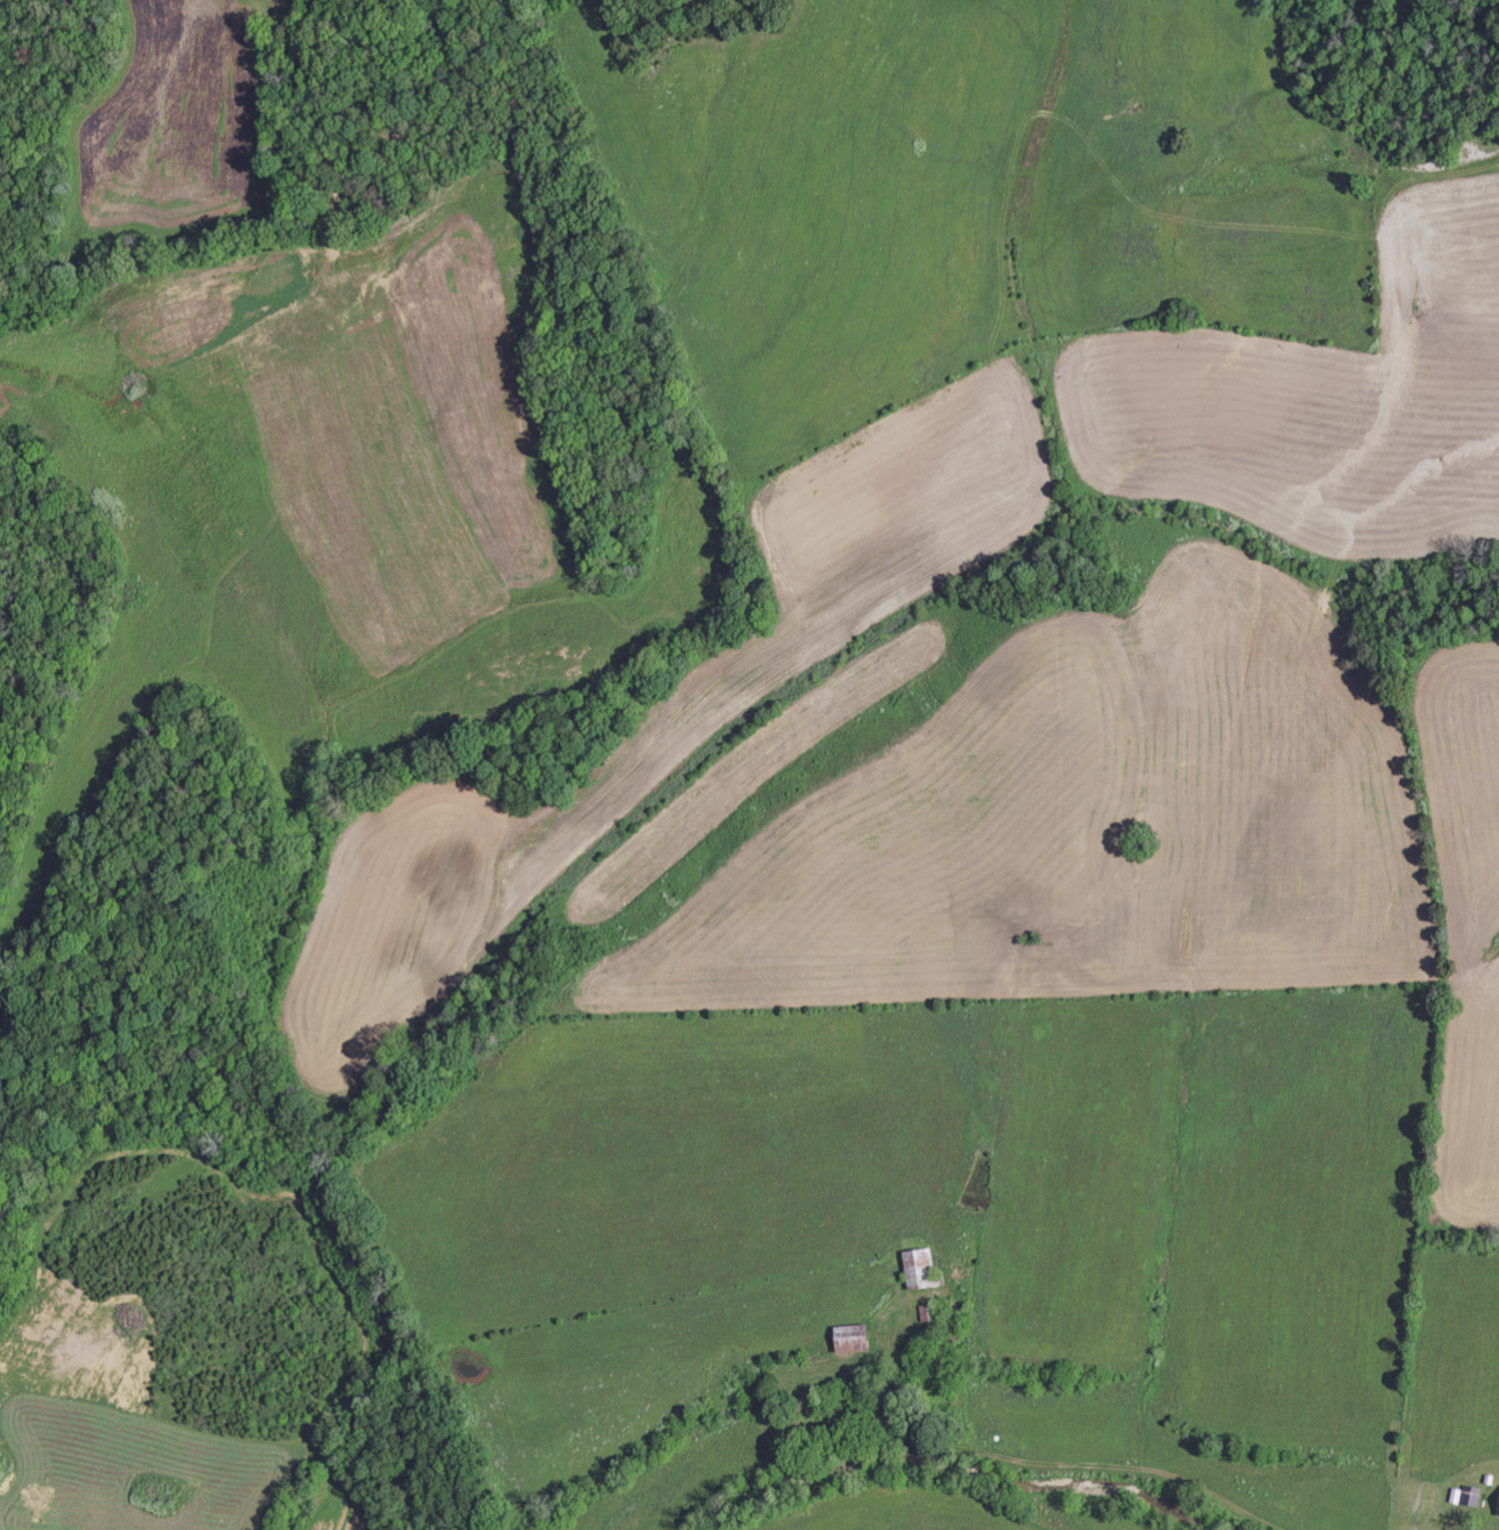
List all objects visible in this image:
building: (917, 1268)
building: (846, 1337)
road: (1099, 1467)
building: (1469, 1494)
building: (1497, 1504)

